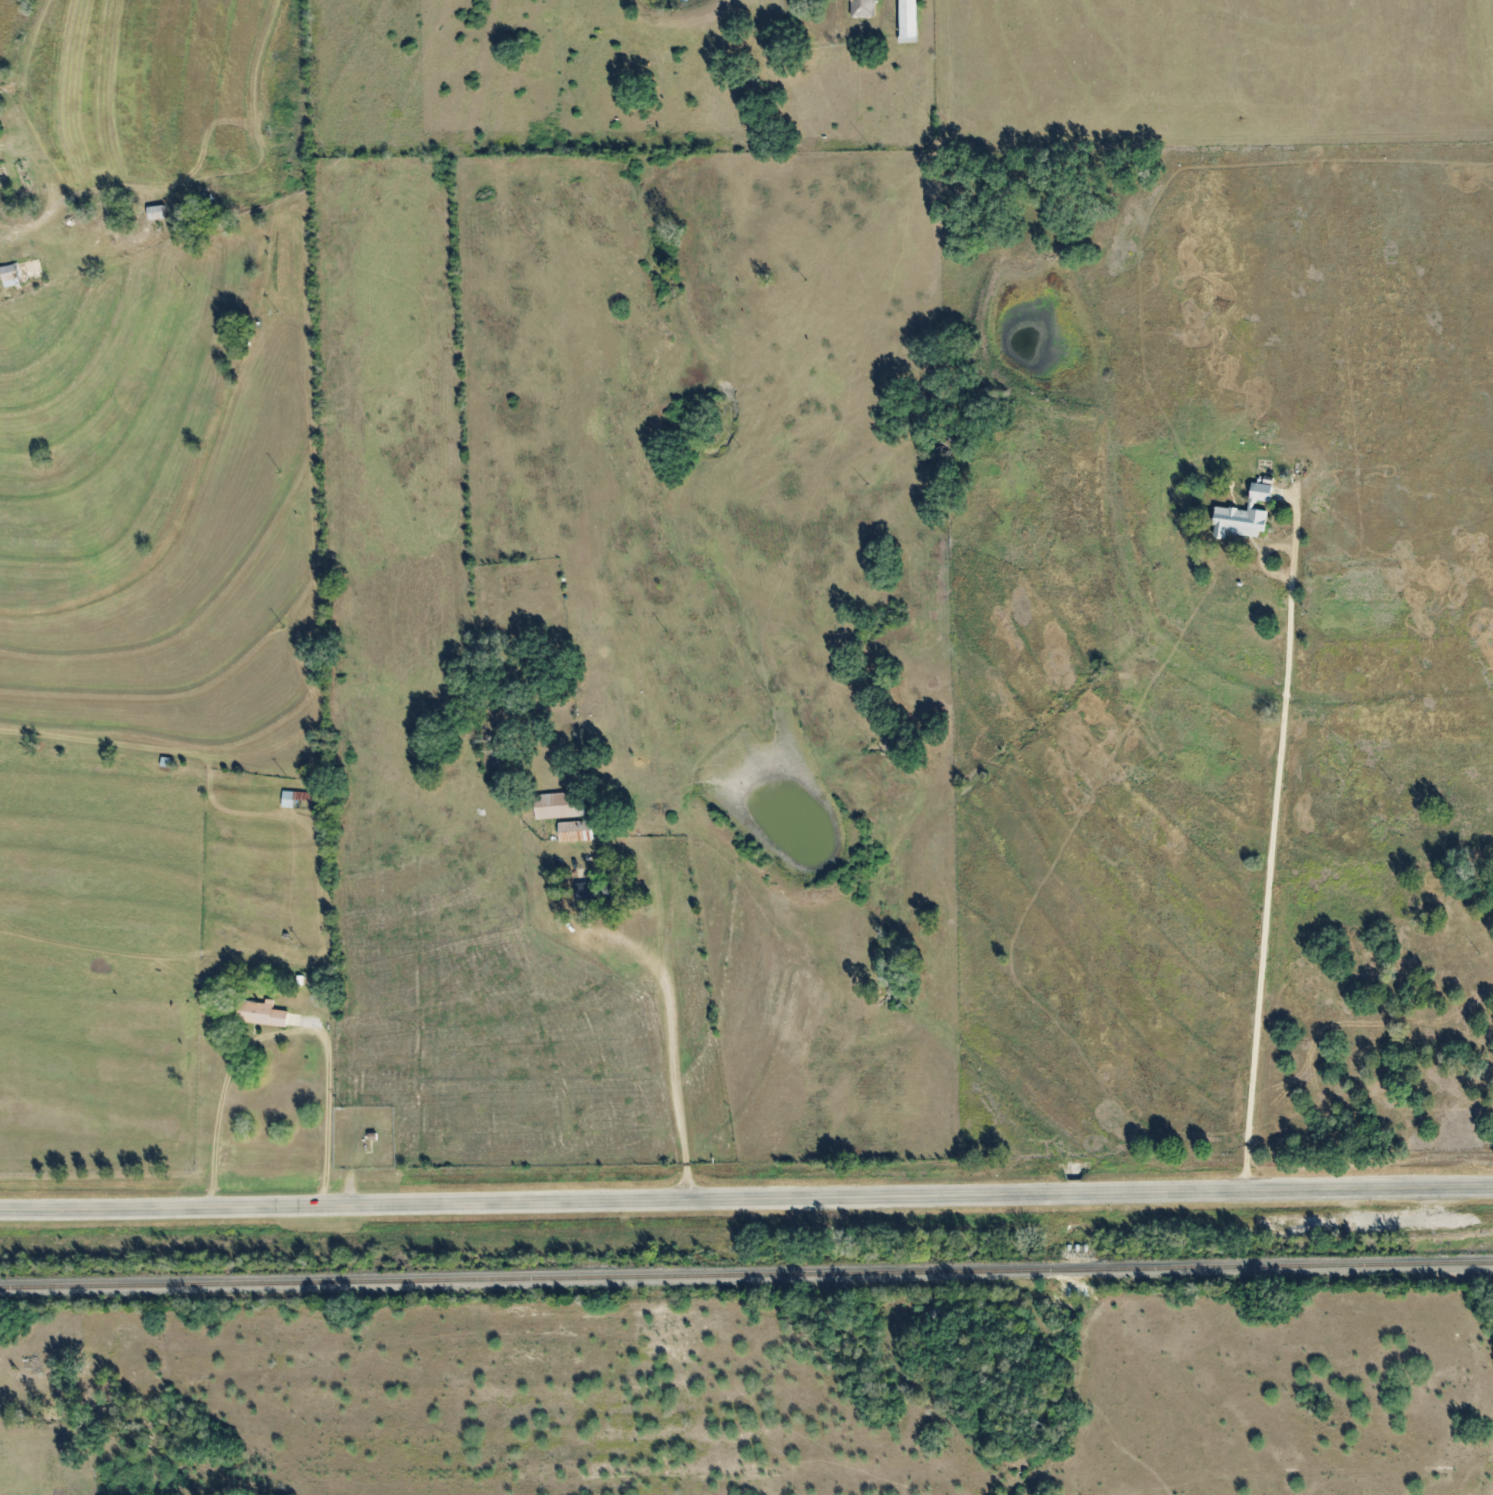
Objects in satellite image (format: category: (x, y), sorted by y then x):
building: (866, 8)
road: (883, 16)
building: (913, 21)
building: (25, 273)
building: (1242, 515)
building: (561, 805)
building: (578, 831)
road: (1271, 839)
building: (599, 891)
road: (672, 961)
building: (265, 1013)
road: (239, 1014)
road: (746, 1199)
railway: (1295, 1265)
railway: (1079, 1269)
railway: (530, 1278)

